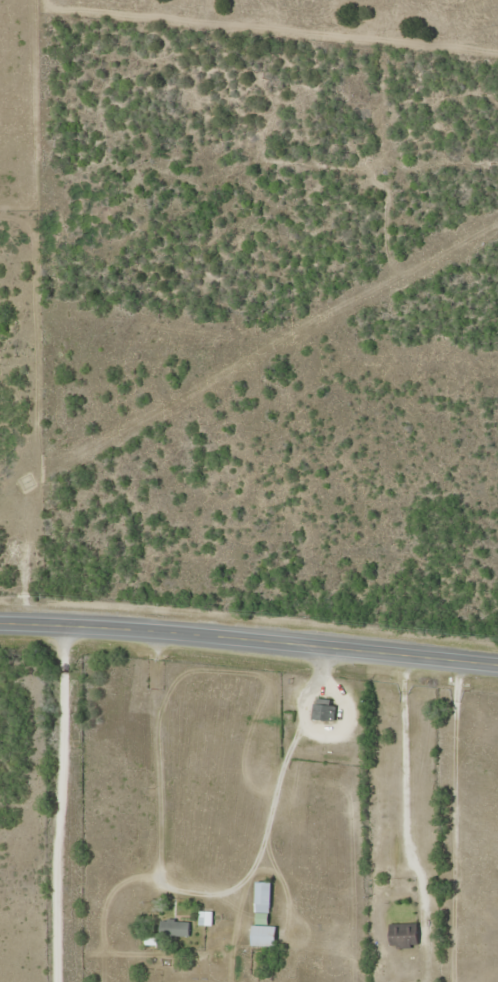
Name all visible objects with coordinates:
road: (249, 649)
building: (322, 711)
road: (171, 762)
road: (38, 808)
building: (260, 918)
building: (171, 928)
building: (401, 936)

